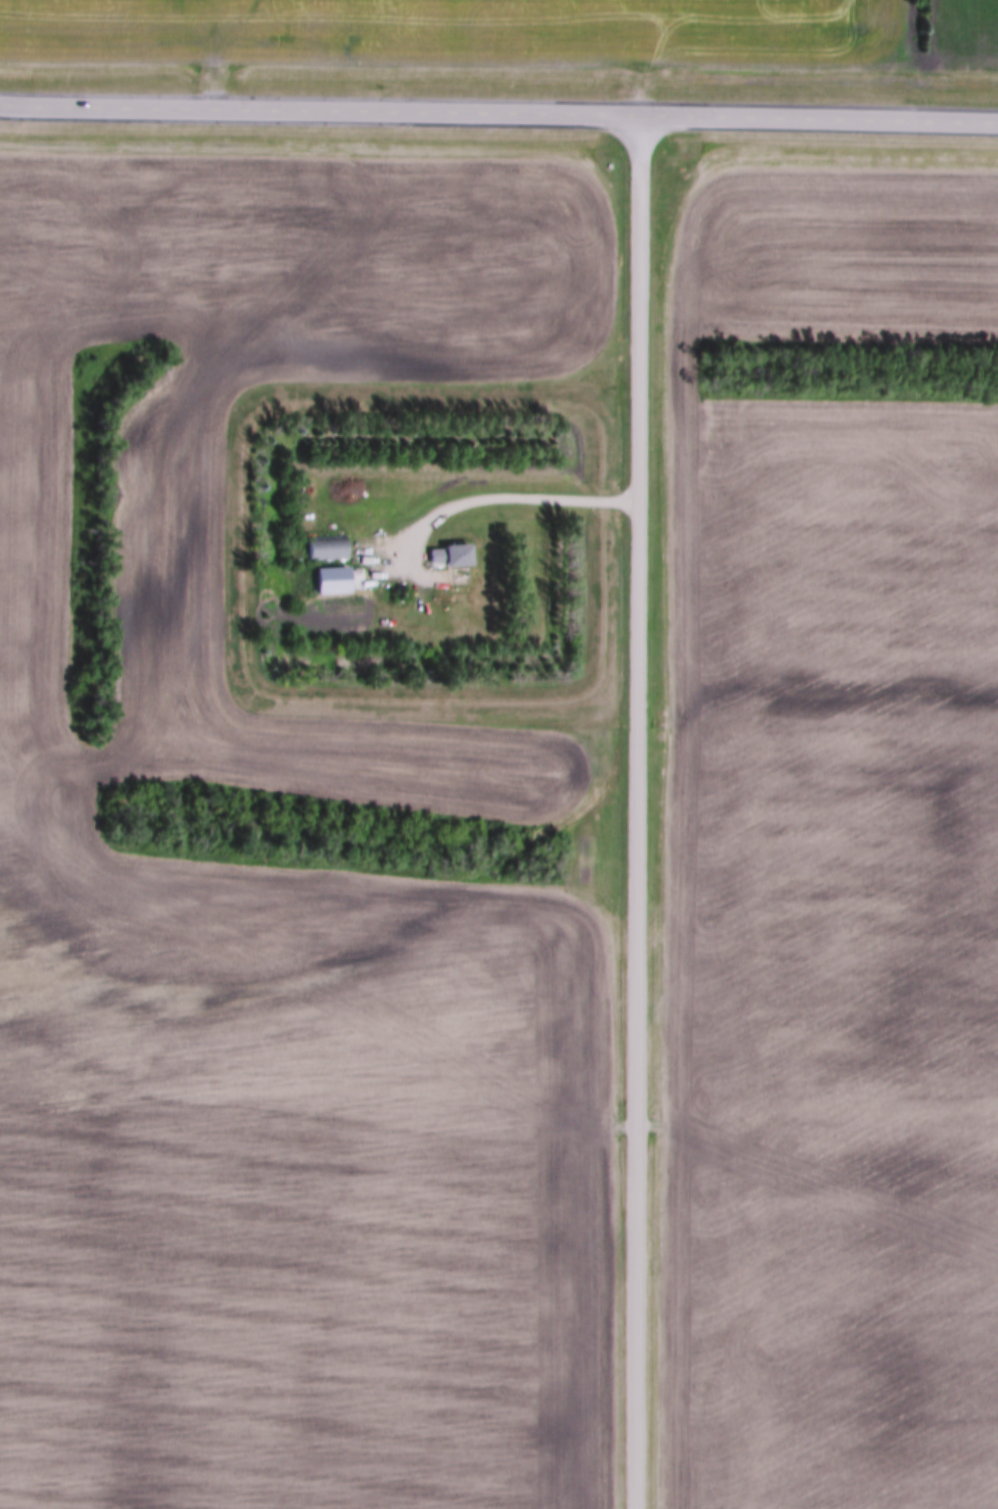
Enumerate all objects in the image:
crop: (463, 34)
crop: (961, 37)
road: (498, 118)
building: (174, 439)
silo: (174, 439)
building: (174, 455)
silo: (174, 455)
building: (174, 471)
silo: (174, 471)
building: (174, 487)
silo: (174, 487)
road: (494, 500)
building: (174, 503)
silo: (174, 503)
crop: (36, 545)
building: (324, 545)
building: (449, 553)
building: (329, 578)
road: (642, 814)
crop: (831, 865)
crop: (323, 1235)

